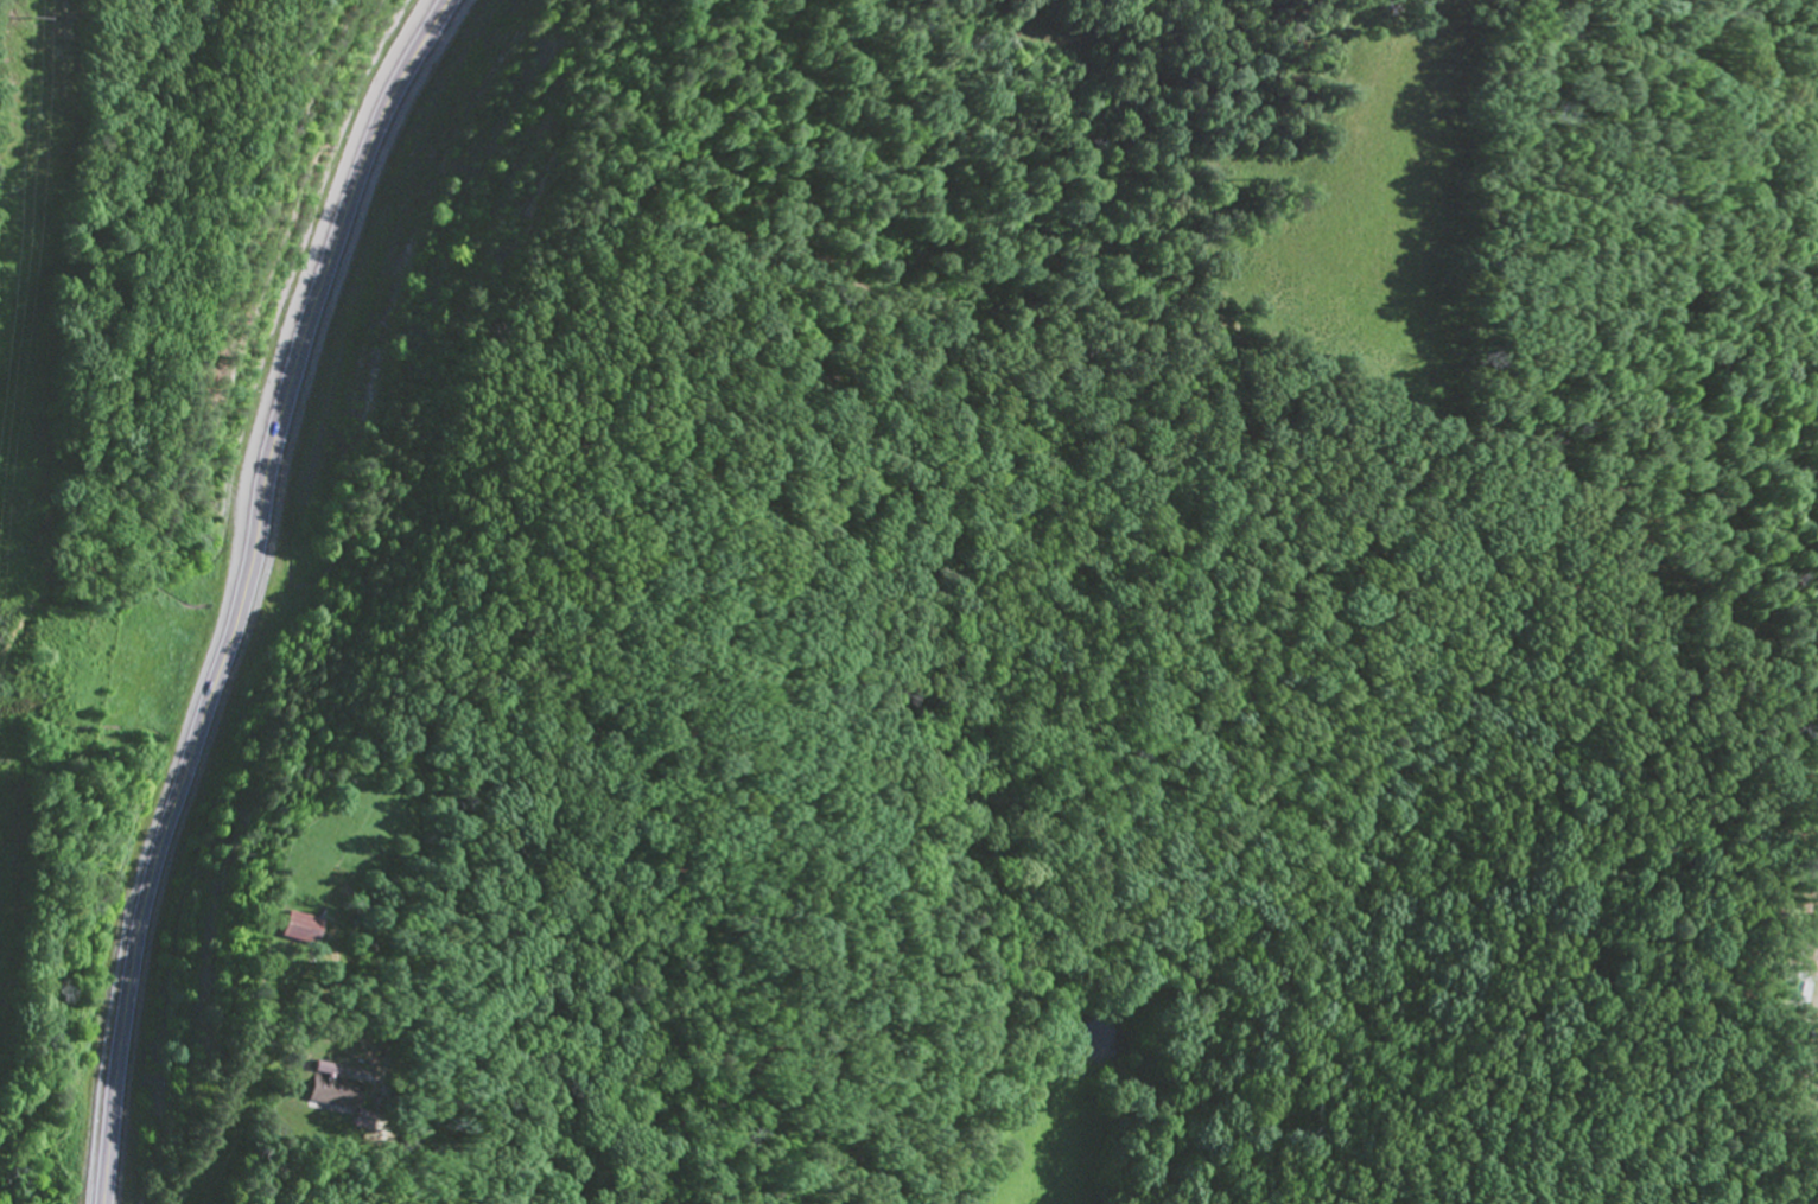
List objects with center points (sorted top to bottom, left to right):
road: (244, 588)
building: (309, 929)
building: (332, 1094)

